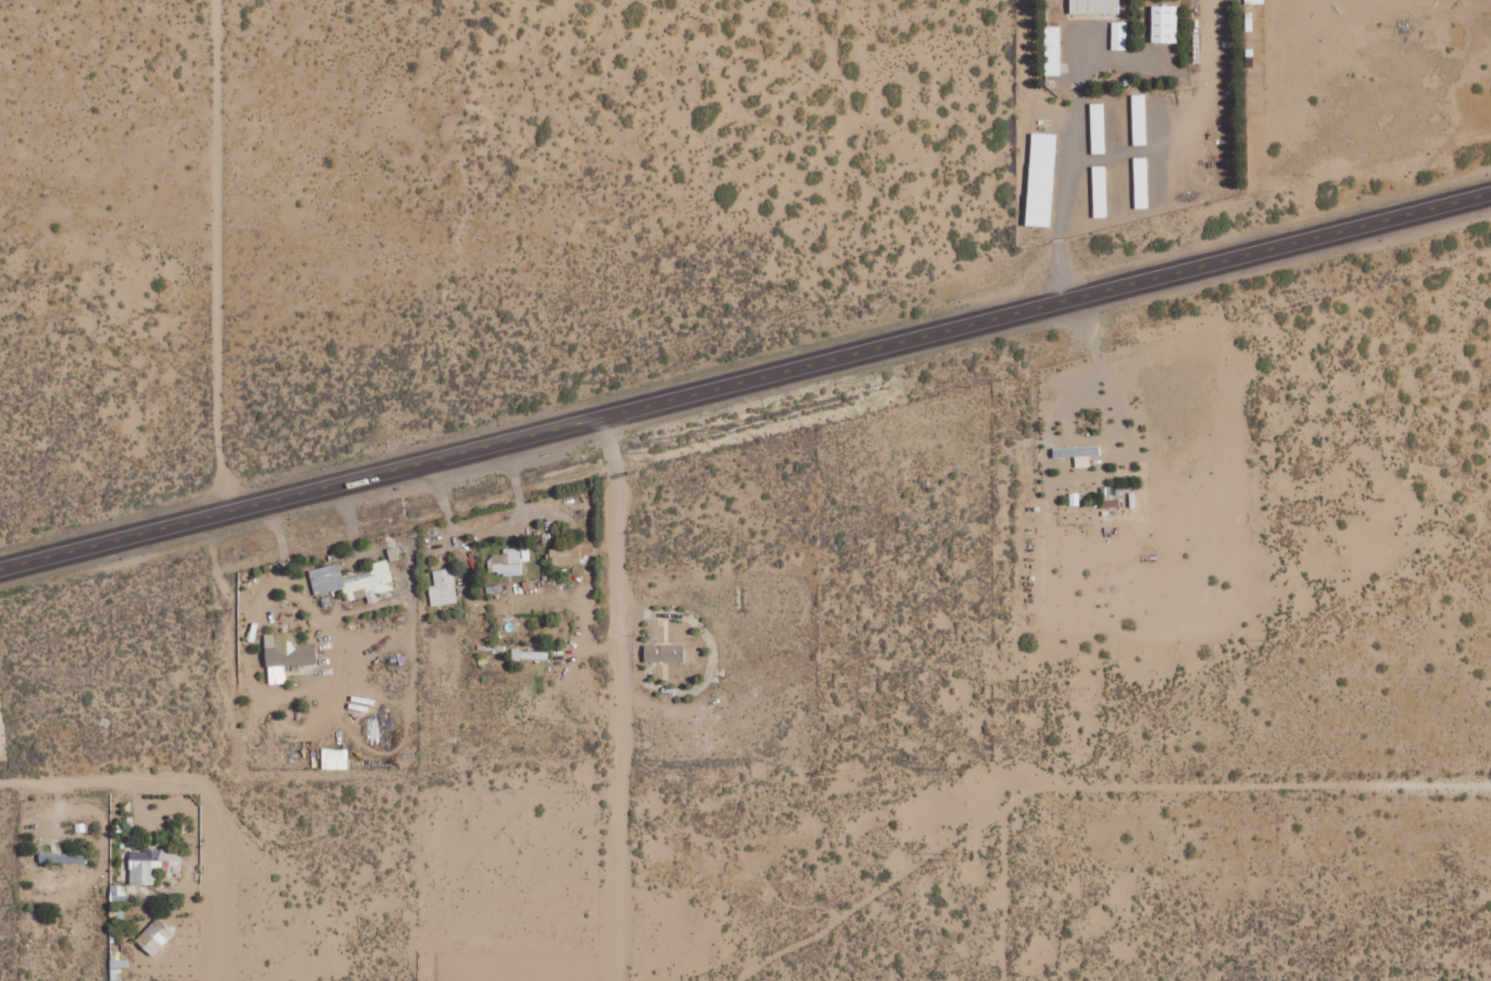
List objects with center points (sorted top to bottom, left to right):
building: (1254, 1)
building: (1094, 6)
building: (1164, 23)
building: (1119, 35)
building: (1052, 50)
building: (1139, 119)
building: (1098, 127)
building: (1041, 179)
building: (1141, 182)
building: (1099, 191)
road: (473, 226)
road: (213, 256)
road: (745, 382)
building: (1077, 453)
building: (565, 554)
building: (509, 560)
building: (353, 580)
building: (442, 587)
building: (664, 653)
building: (286, 654)
building: (529, 654)
road: (617, 698)
road: (1110, 734)
building: (334, 758)
road: (105, 784)
road: (1261, 785)
building: (58, 857)
building: (151, 864)
road: (216, 890)
road: (1002, 893)
building: (117, 894)

